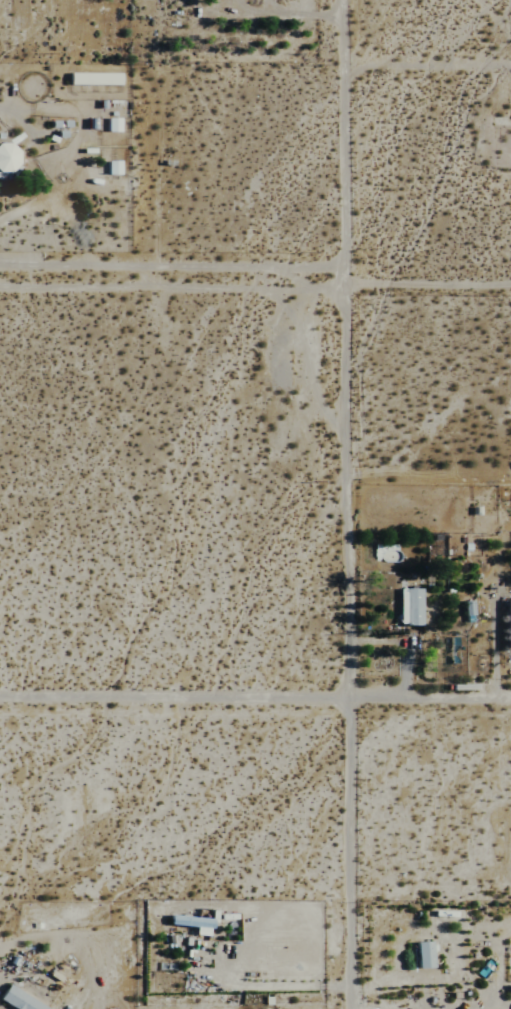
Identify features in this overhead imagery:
road: (18, 119)
road: (176, 267)
road: (351, 350)
road: (255, 696)
road: (356, 854)

